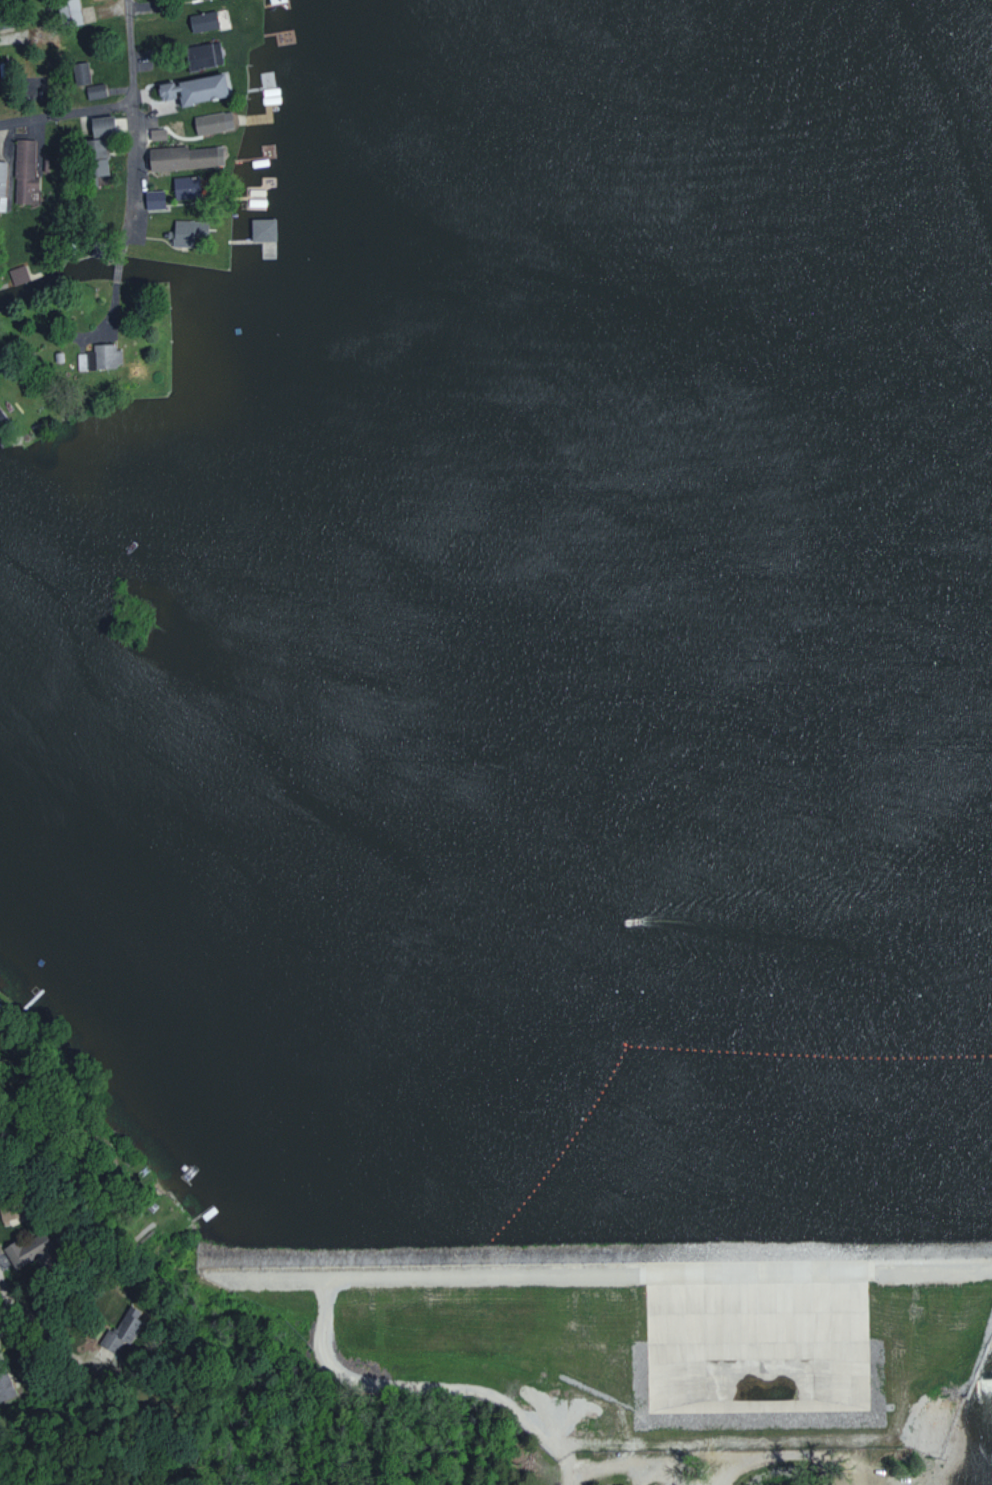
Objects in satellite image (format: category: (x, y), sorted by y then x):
building: (68, 12)
building: (201, 21)
building: (201, 55)
building: (80, 73)
building: (192, 89)
building: (94, 91)
road: (67, 110)
building: (212, 123)
building: (95, 146)
building: (184, 158)
building: (23, 170)
road: (131, 180)
building: (2, 184)
building: (185, 188)
building: (153, 199)
building: (262, 229)
building: (187, 231)
building: (17, 275)
building: (98, 358)
river: (857, 479)
building: (17, 1255)
road: (2, 1257)
road: (46, 1328)
building: (121, 1333)
road: (439, 1388)
road: (733, 1417)
road: (611, 1455)

